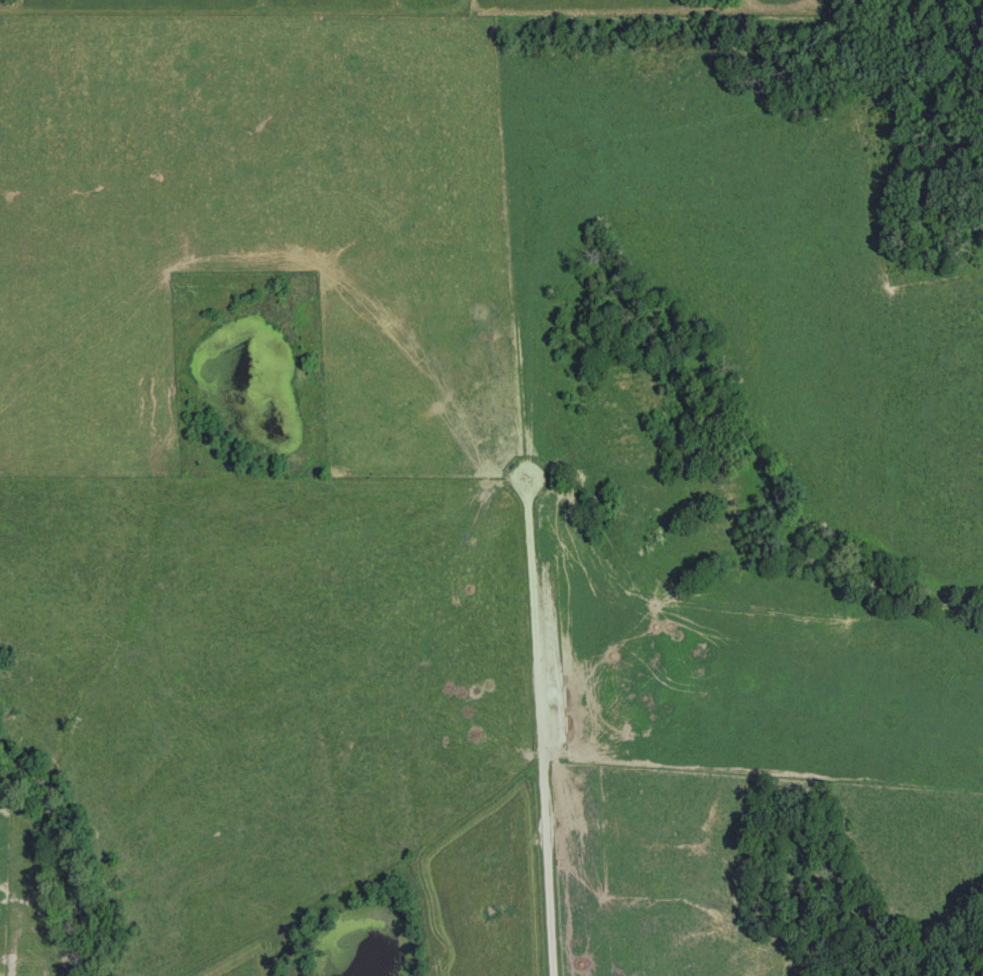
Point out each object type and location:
road: (547, 726)

